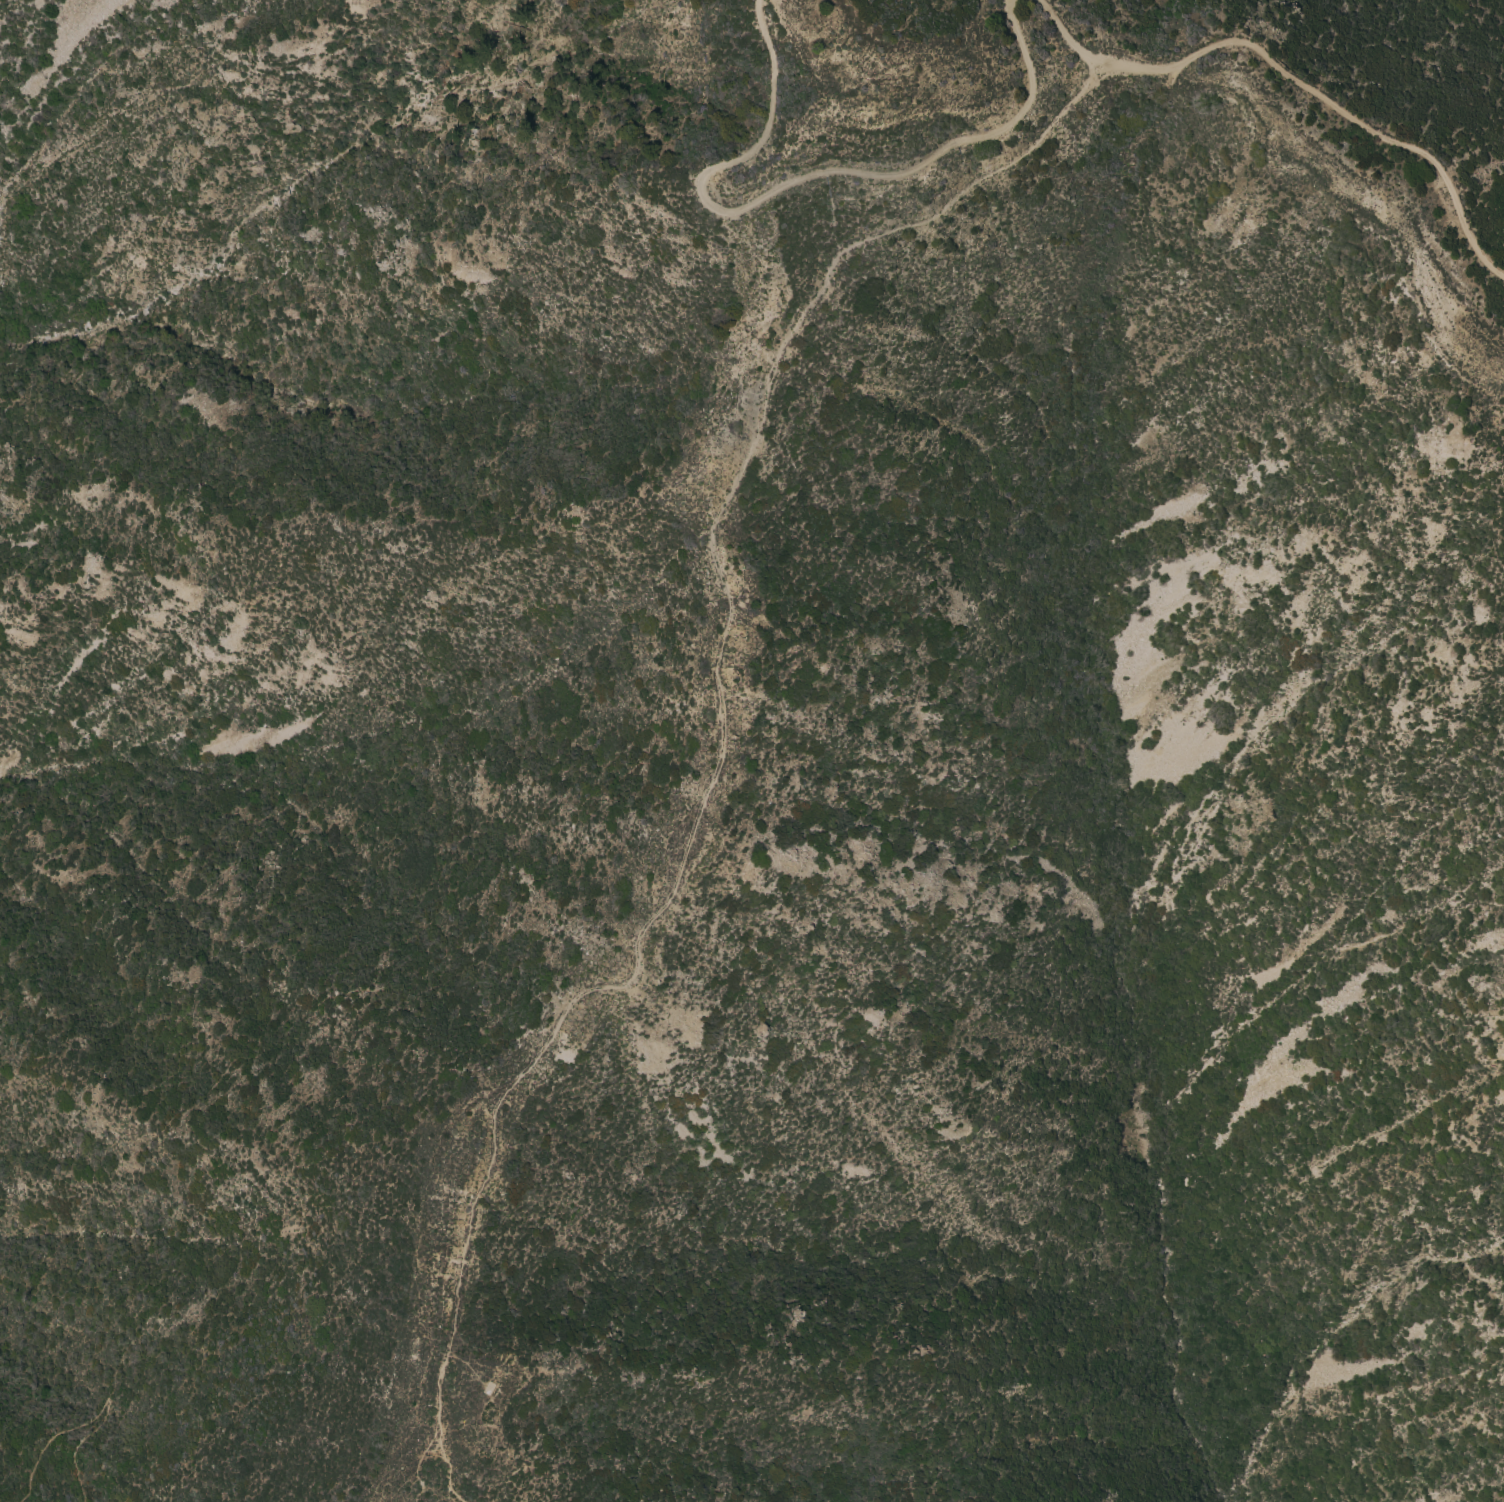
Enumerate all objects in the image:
road: (1294, 75)
road: (800, 170)
road: (718, 711)
road: (431, 1008)
building: (485, 1389)
road: (46, 1439)
road: (69, 1446)
road: (436, 1476)

